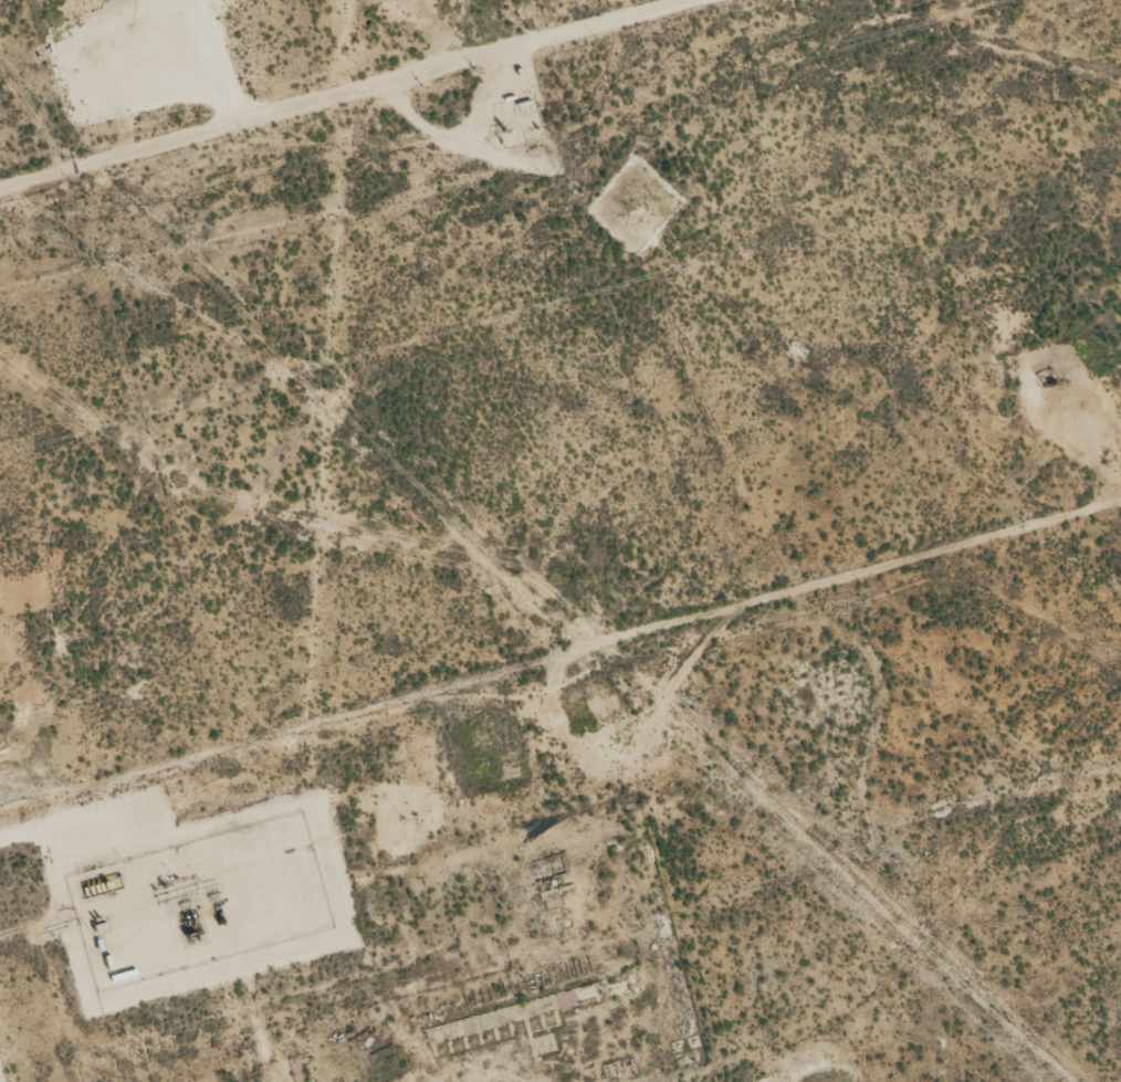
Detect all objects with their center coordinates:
road: (381, 104)
road: (560, 697)

